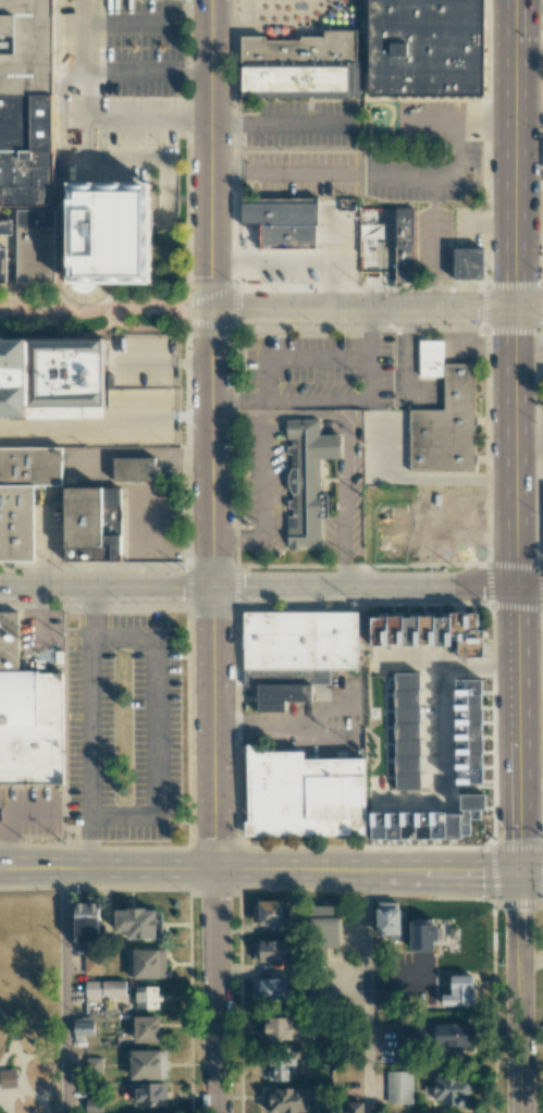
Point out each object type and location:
road: (529, 10)
road: (269, 15)
parking lot: (273, 15)
road: (123, 25)
building: (26, 45)
building: (432, 48)
road: (529, 51)
building: (303, 64)
parking lot: (118, 90)
road: (90, 97)
road: (461, 122)
road: (280, 123)
road: (281, 173)
parking lot: (303, 173)
road: (443, 177)
building: (24, 182)
building: (285, 222)
building: (113, 232)
building: (407, 245)
building: (473, 264)
road: (104, 309)
road: (377, 309)
road: (295, 358)
road: (164, 362)
parking lot: (318, 371)
building: (49, 375)
road: (335, 399)
parking lot: (115, 400)
building: (445, 413)
road: (108, 425)
road: (348, 435)
road: (516, 436)
road: (529, 438)
building: (132, 469)
road: (421, 478)
building: (305, 481)
building: (24, 496)
road: (262, 499)
building: (83, 517)
building: (393, 535)
road: (212, 556)
road: (271, 588)
building: (431, 631)
building: (297, 653)
building: (29, 715)
road: (262, 725)
parking lot: (122, 727)
road: (89, 728)
road: (156, 728)
building: (388, 728)
building: (406, 731)
building: (468, 731)
building: (307, 794)
road: (4, 811)
building: (428, 821)
road: (259, 869)
traffic signals: (519, 873)
road: (531, 873)
building: (269, 912)
building: (388, 919)
building: (85, 922)
building: (137, 923)
building: (324, 925)
building: (271, 951)
road: (531, 962)
building: (91, 963)
building: (146, 963)
building: (102, 987)
building: (270, 988)
park: (32, 991)
road: (63, 991)
road: (367, 991)
building: (459, 991)
road: (520, 992)
building: (147, 997)
building: (383, 997)
road: (11, 1025)
building: (83, 1027)
building: (144, 1028)
building: (282, 1028)
building: (407, 1034)
building: (454, 1034)
road: (5, 1052)
building: (147, 1064)
building: (279, 1066)
road: (50, 1067)
building: (8, 1077)
road: (22, 1084)
building: (398, 1087)
building: (451, 1090)
road: (12, 1092)
building: (149, 1093)
building: (287, 1099)
road: (1, 1101)
road: (4, 1103)
building: (91, 1104)

